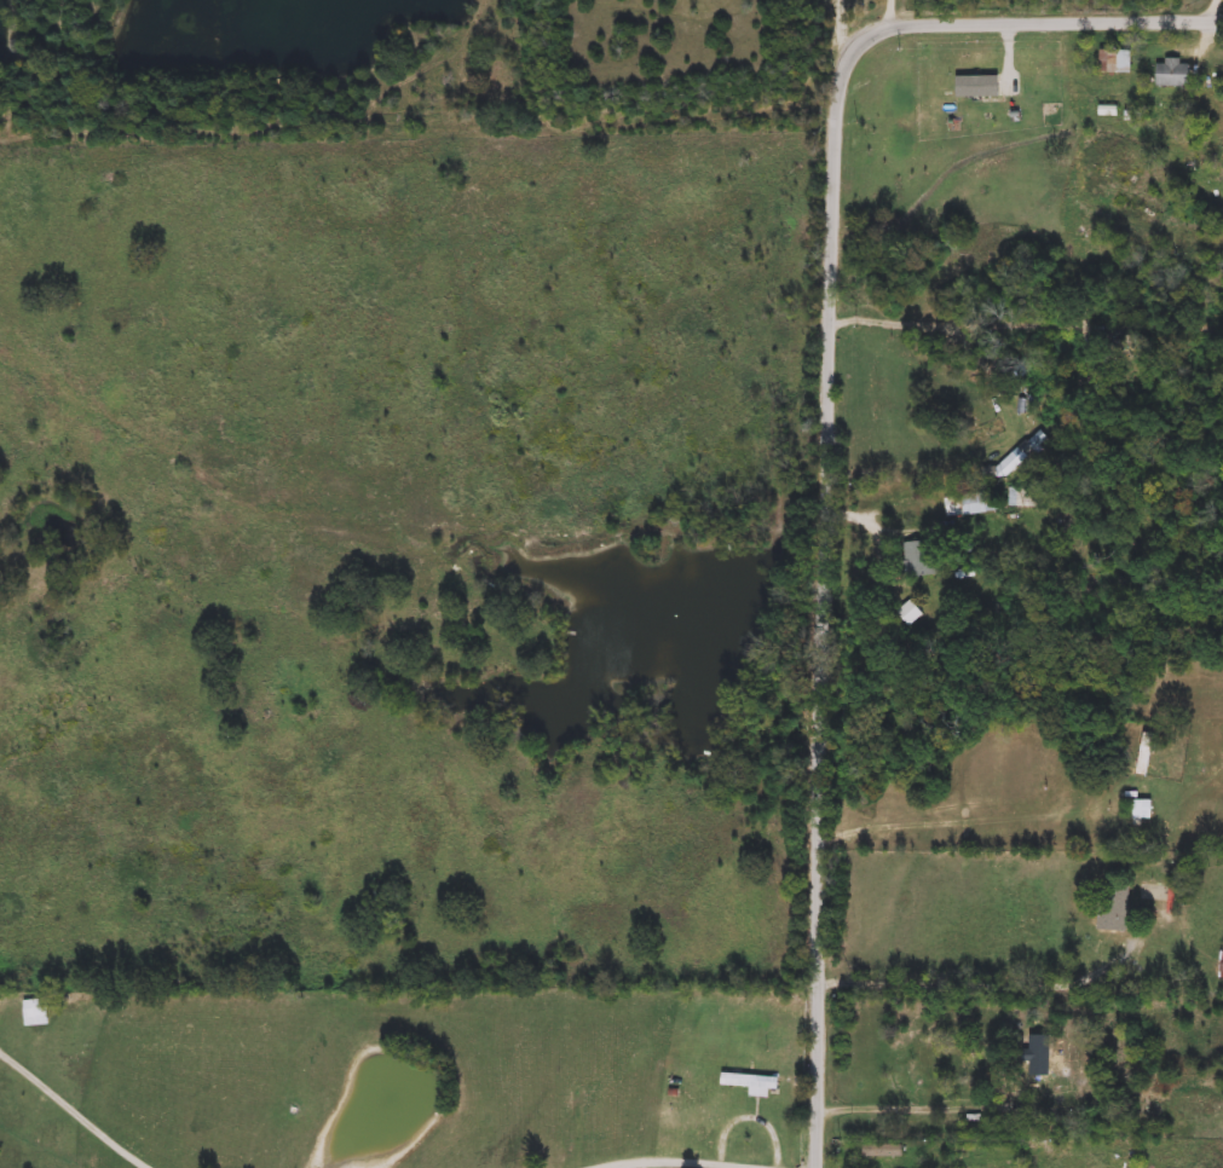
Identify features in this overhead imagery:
road: (1212, 8)
road: (890, 12)
road: (846, 24)
building: (1115, 62)
building: (1173, 74)
road: (921, 324)
road: (833, 417)
building: (1022, 497)
building: (965, 504)
road: (885, 524)
building: (918, 557)
building: (1144, 753)
building: (1142, 810)
road: (925, 828)
building: (1113, 908)
building: (1222, 965)
road: (942, 982)
building: (36, 1012)
building: (929, 1062)
building: (1051, 1065)
building: (751, 1083)
road: (77, 1106)
road: (876, 1109)
building: (884, 1150)
road: (682, 1157)

